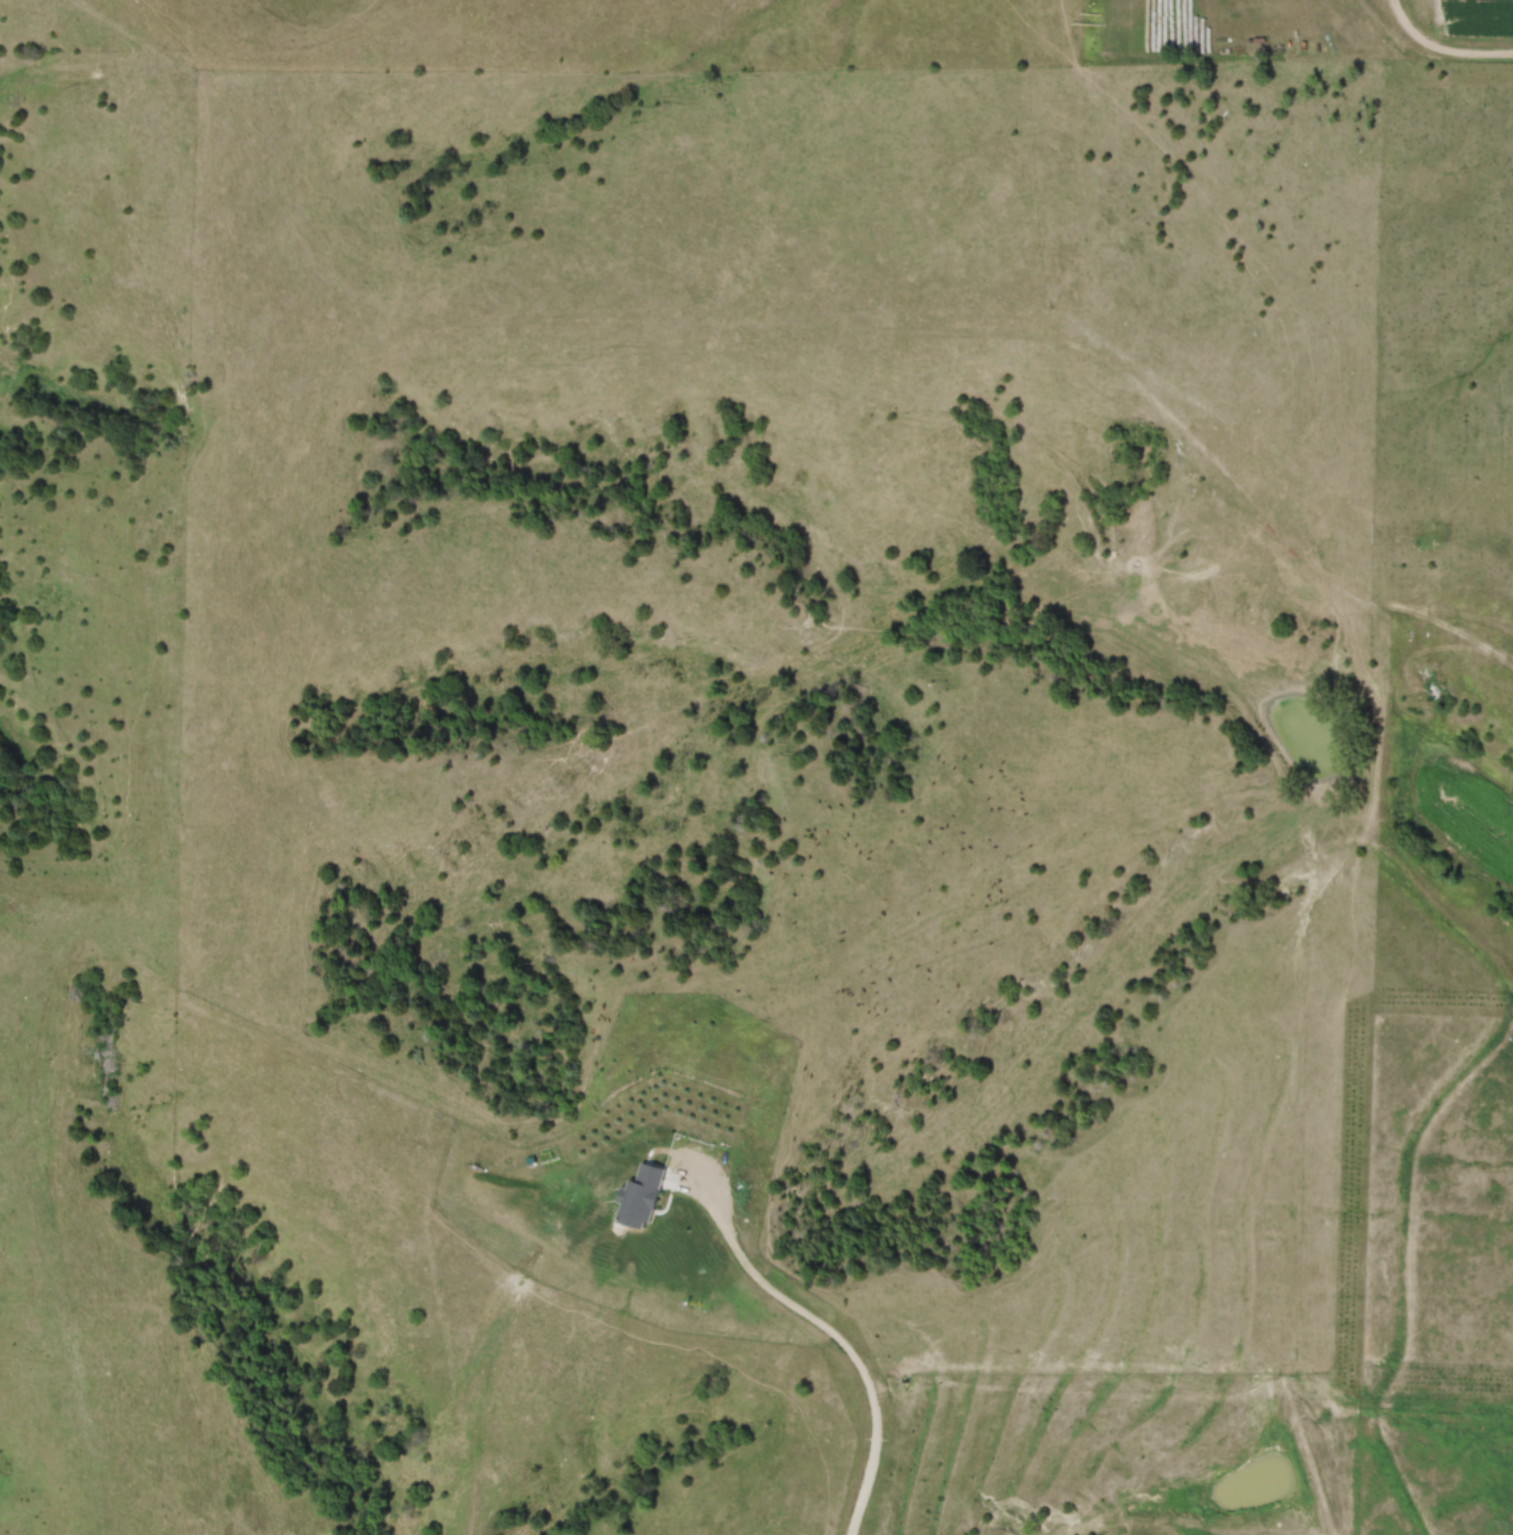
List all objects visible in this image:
road: (1445, 47)

